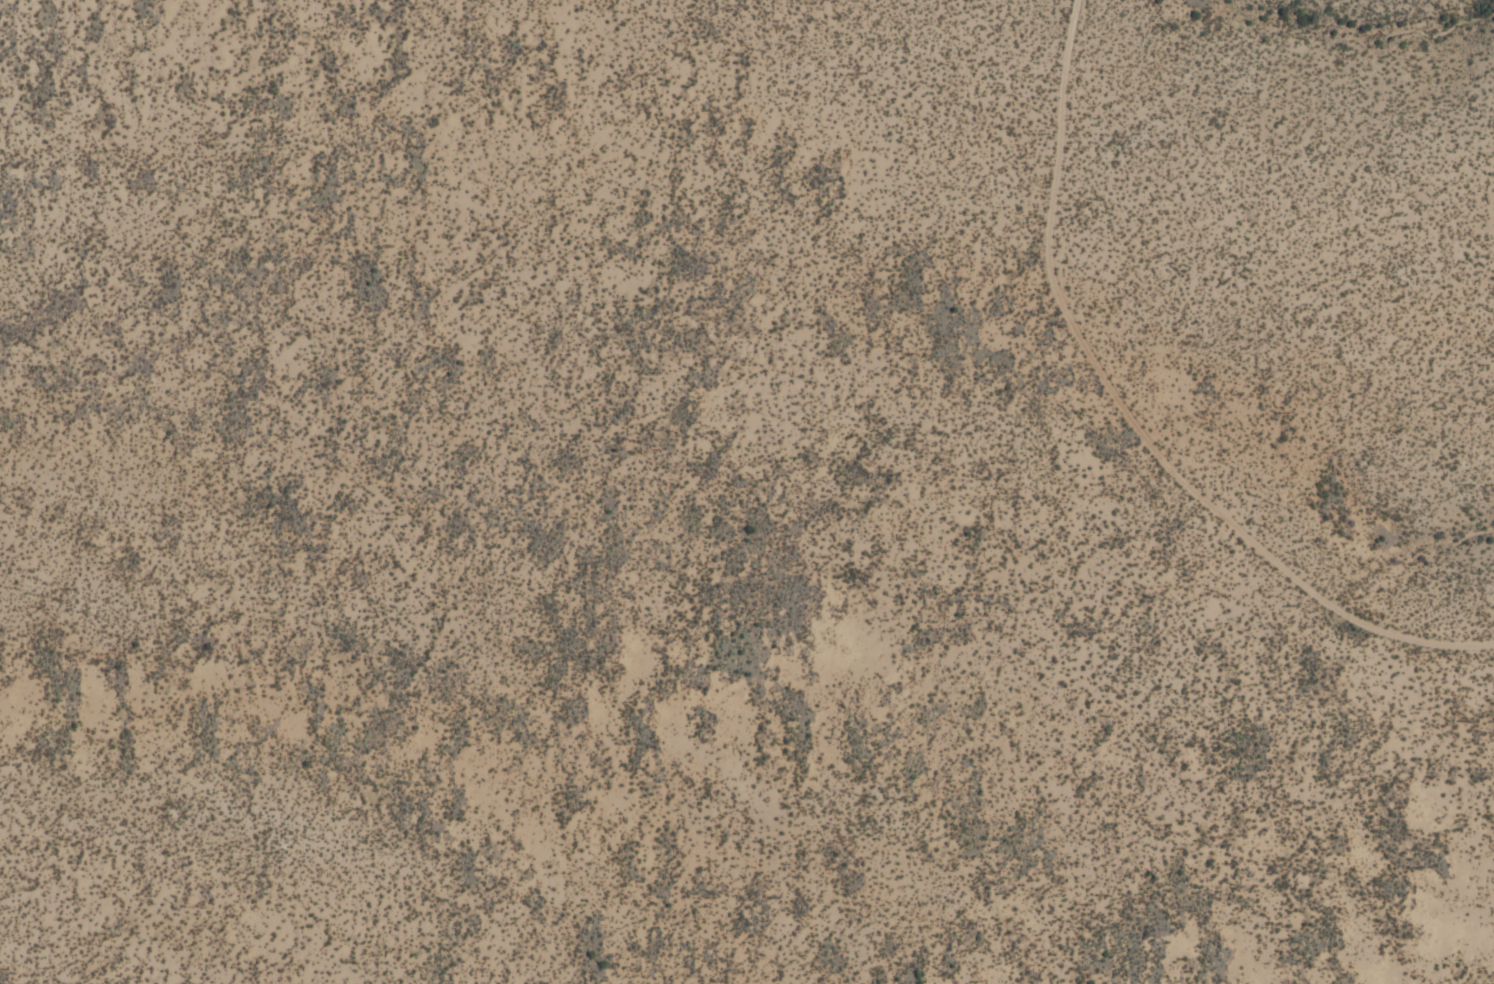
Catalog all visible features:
road: (1128, 422)

